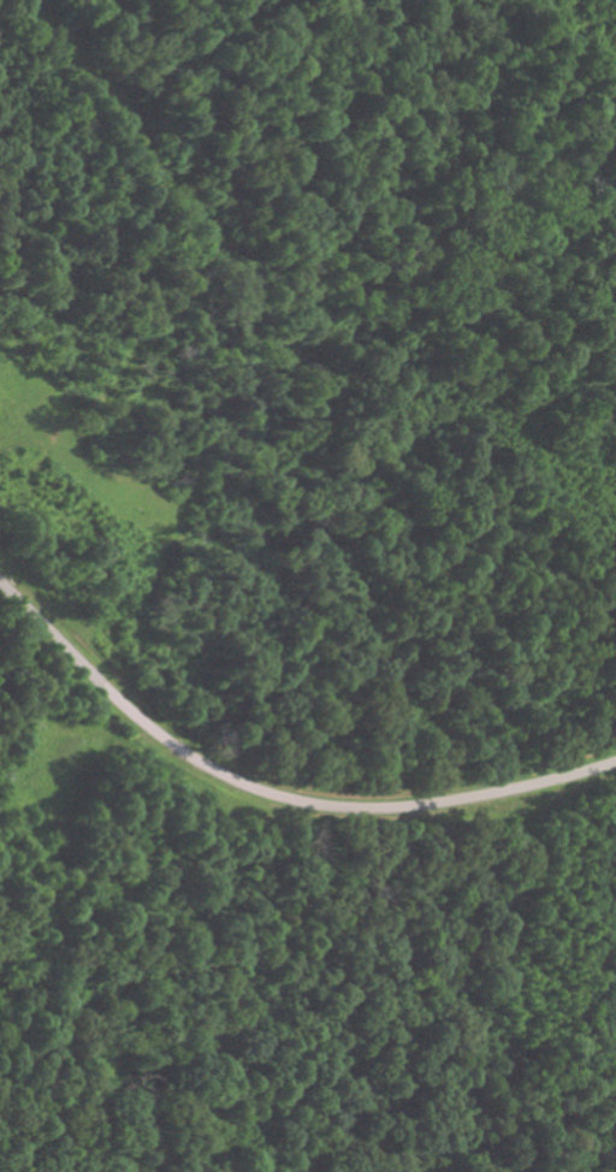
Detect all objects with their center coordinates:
road: (272, 792)

